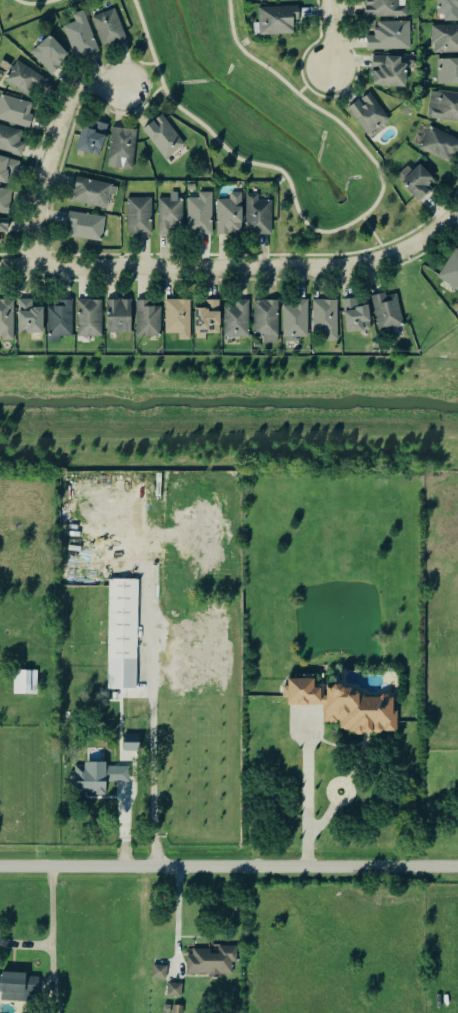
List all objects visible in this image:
building: (269, 0)
road: (35, 4)
building: (385, 9)
building: (448, 9)
building: (278, 20)
building: (109, 30)
road: (329, 34)
building: (390, 36)
building: (81, 37)
building: (445, 39)
building: (50, 54)
road: (137, 62)
road: (121, 66)
building: (389, 71)
building: (448, 71)
building: (25, 79)
road: (312, 81)
road: (148, 98)
building: (444, 106)
road: (133, 107)
building: (15, 111)
building: (368, 114)
building: (164, 137)
building: (92, 139)
building: (11, 141)
building: (440, 145)
building: (123, 147)
road: (49, 154)
building: (8, 169)
building: (417, 181)
building: (93, 193)
building: (5, 201)
building: (169, 213)
building: (200, 215)
building: (230, 215)
building: (139, 216)
building: (258, 216)
building: (4, 225)
building: (86, 226)
road: (330, 233)
road: (374, 237)
road: (236, 267)
building: (451, 271)
building: (388, 311)
building: (119, 316)
building: (356, 316)
building: (30, 317)
building: (89, 318)
building: (148, 319)
building: (176, 319)
building: (324, 319)
building: (208, 320)
building: (237, 320)
building: (295, 320)
building: (5, 321)
building: (264, 321)
building: (58, 322)
building: (273, 500)
building: (121, 635)
building: (23, 683)
building: (345, 707)
building: (131, 743)
road: (153, 752)
building: (97, 779)
road: (308, 780)
road: (127, 825)
road: (308, 848)
road: (228, 866)
road: (178, 919)
road: (58, 933)
road: (28, 944)
building: (210, 963)
building: (159, 973)
building: (17, 988)
building: (175, 990)
building: (177, 1009)

